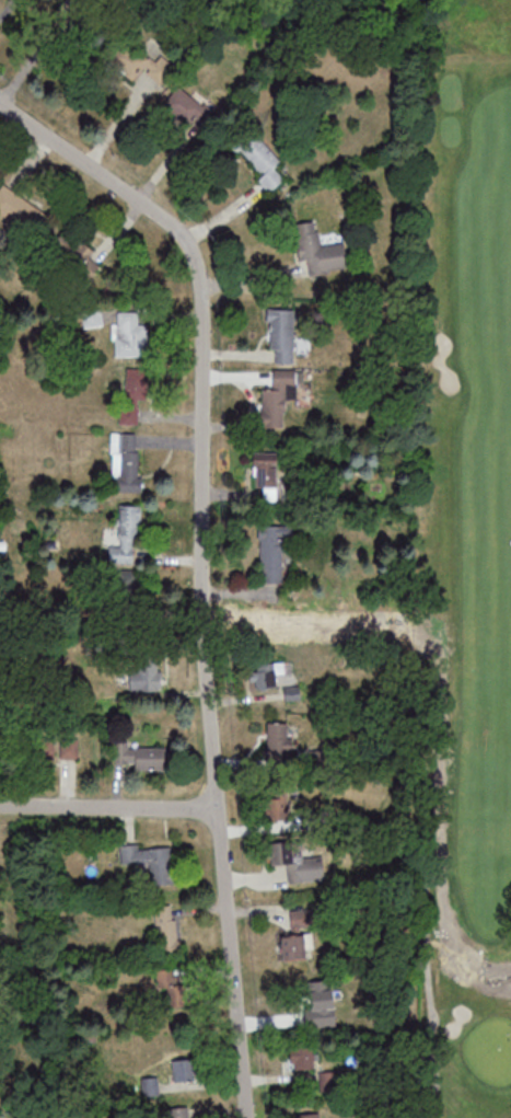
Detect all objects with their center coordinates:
building: (141, 64)
building: (186, 107)
building: (260, 158)
building: (22, 211)
building: (320, 251)
building: (78, 254)
building: (281, 331)
building: (129, 333)
building: (133, 393)
building: (278, 399)
building: (126, 461)
building: (266, 473)
building: (127, 537)
park: (466, 551)
building: (272, 555)
road: (202, 560)
building: (146, 676)
building: (264, 676)
building: (279, 738)
building: (69, 748)
building: (139, 756)
road: (107, 805)
building: (278, 806)
building: (151, 862)
building: (297, 862)
building: (167, 930)
building: (297, 946)
building: (173, 984)
building: (303, 1058)
building: (185, 1069)
building: (328, 1080)
building: (182, 1111)
building: (313, 1115)

